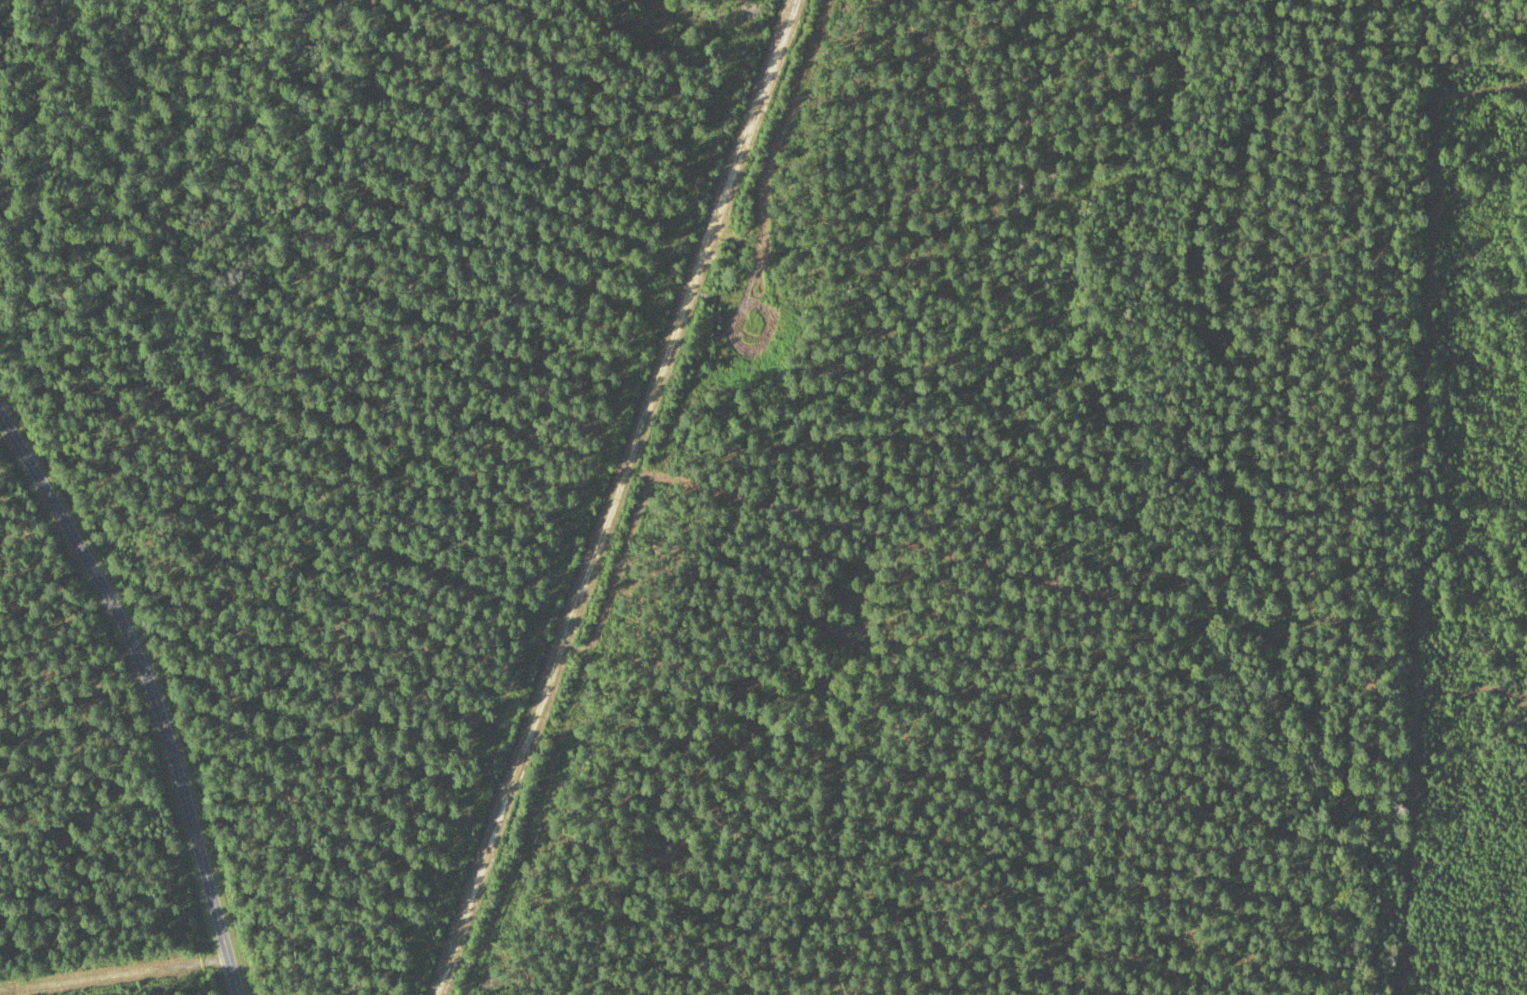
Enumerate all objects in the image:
road: (616, 497)
road: (147, 691)

